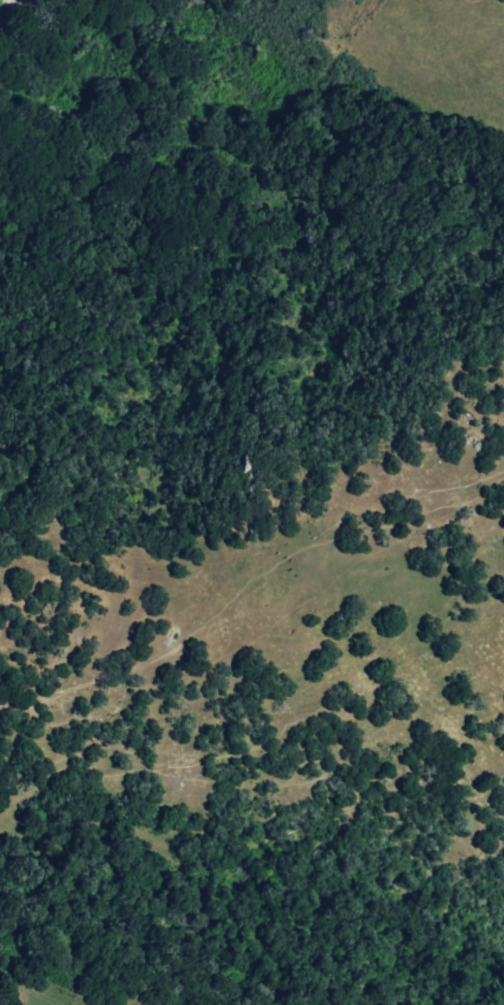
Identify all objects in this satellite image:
road: (41, 36)

